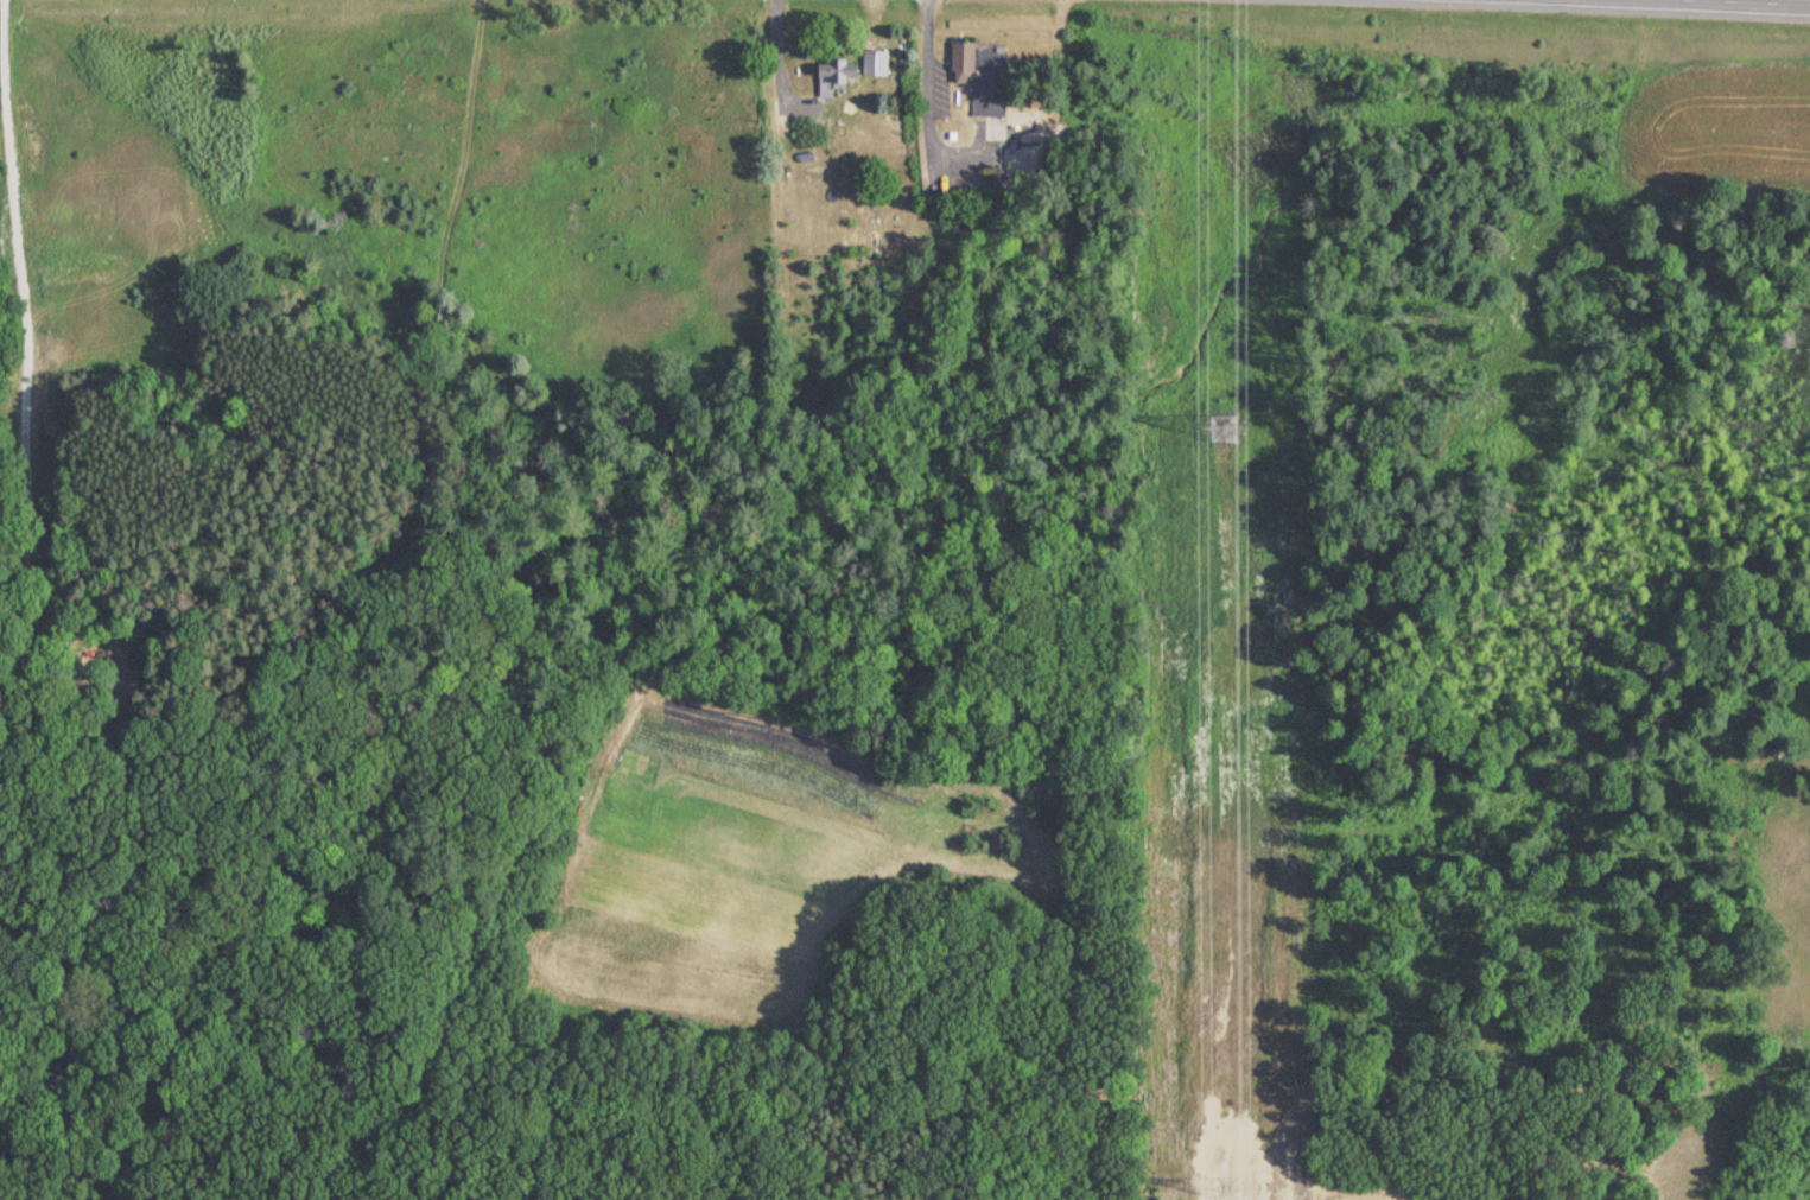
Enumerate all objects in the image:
road: (1767, 1)
building: (832, 74)
building: (985, 80)
road: (923, 108)
road: (18, 218)
power tower: (1224, 426)
power tower: (1233, 1180)

